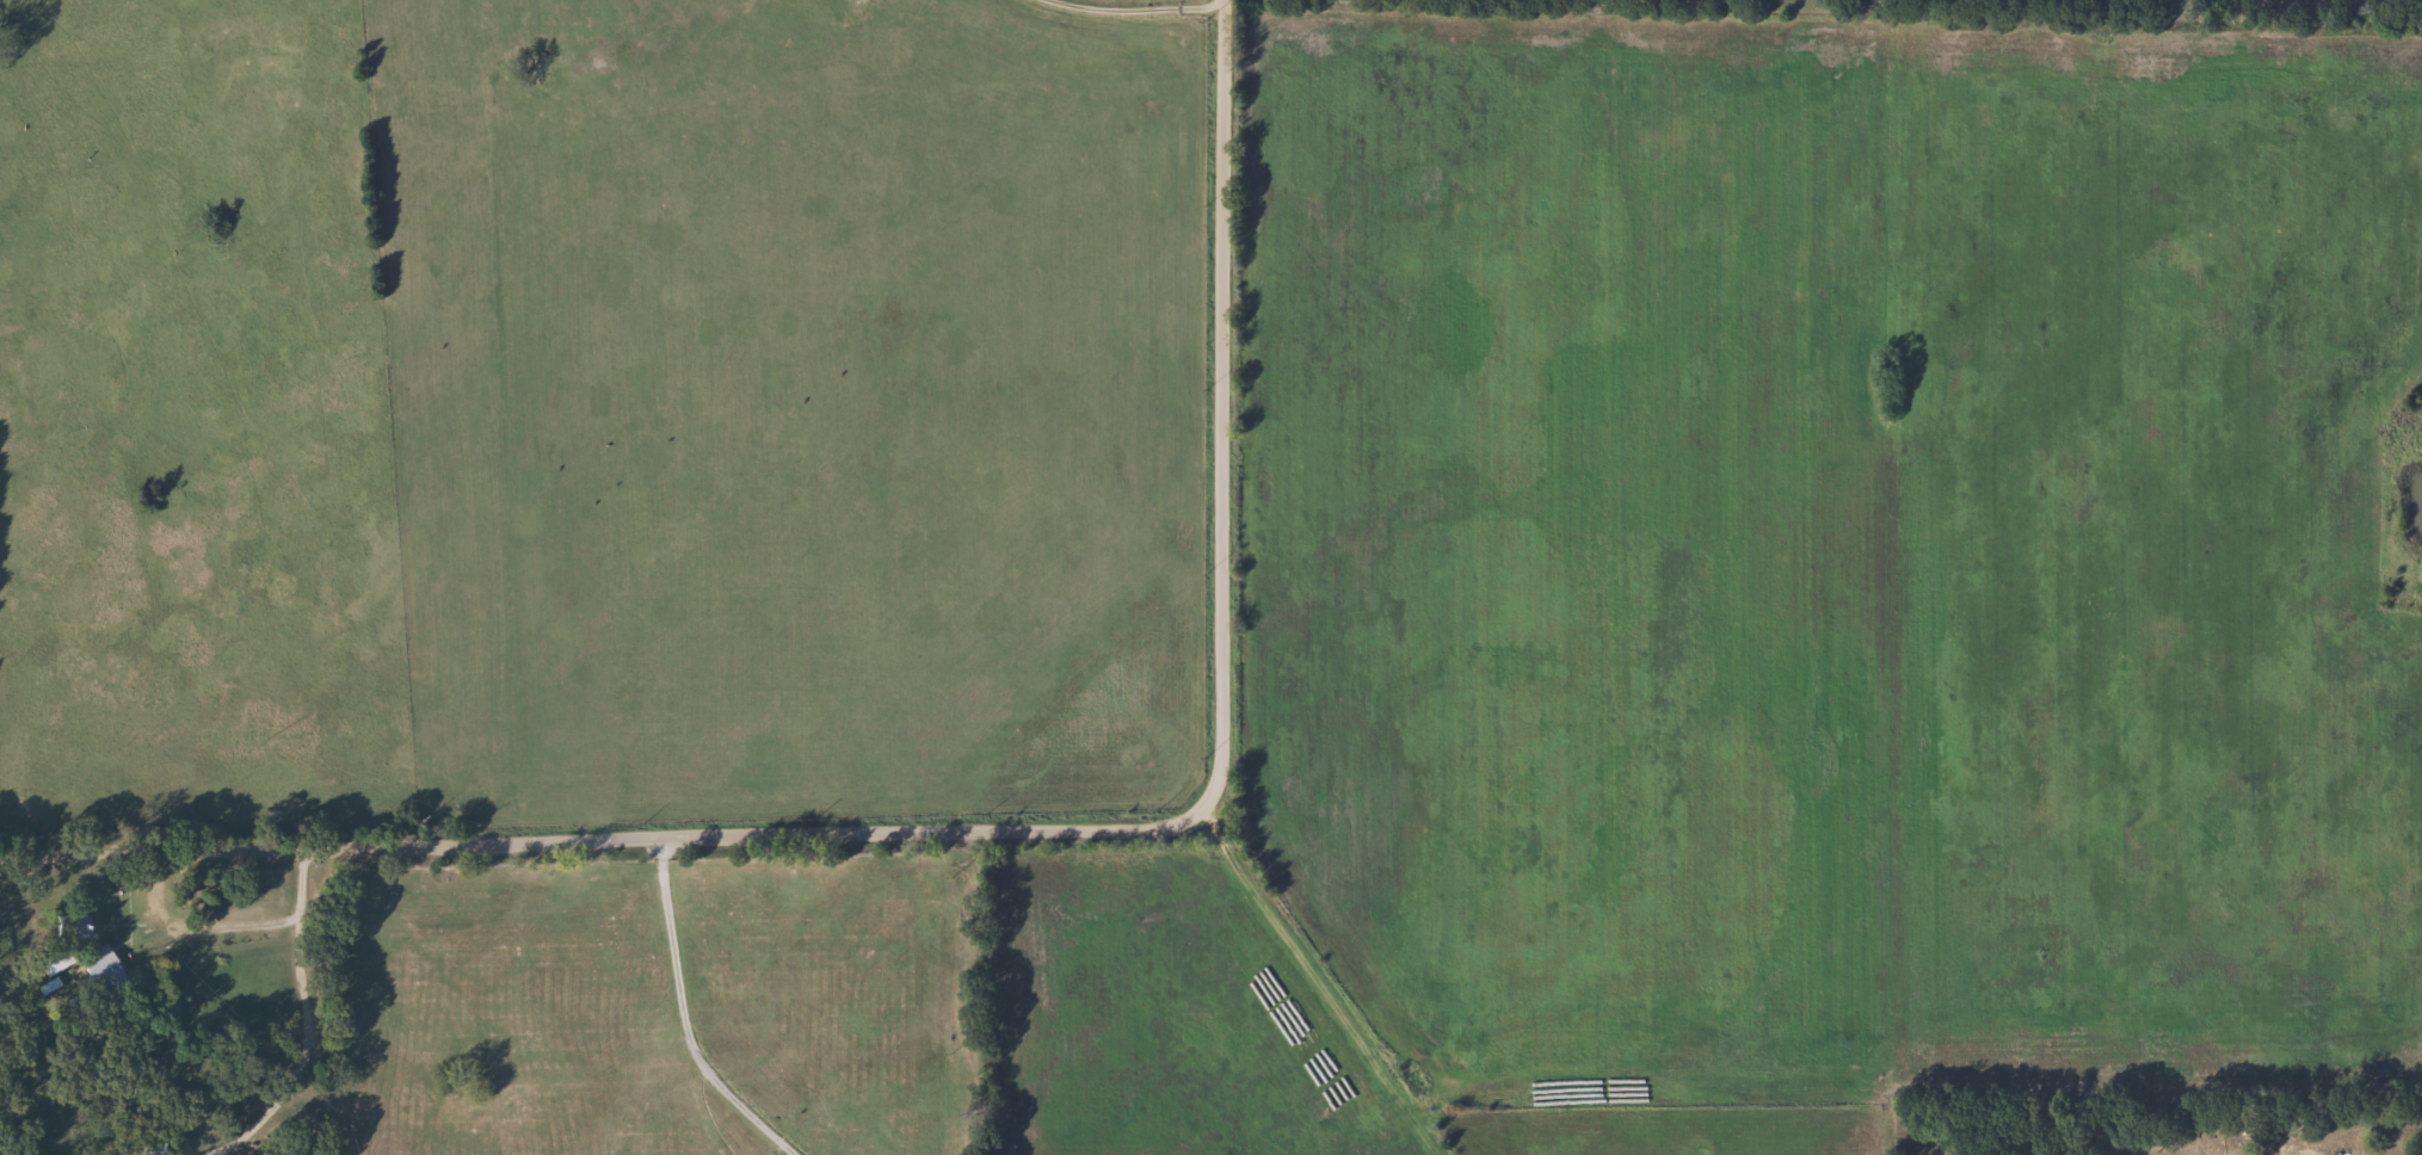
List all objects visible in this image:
road: (1138, 13)
road: (1017, 833)
building: (78, 933)
building: (109, 970)
road: (1336, 992)
road: (690, 1018)
road: (306, 1020)
building: (161, 1149)

